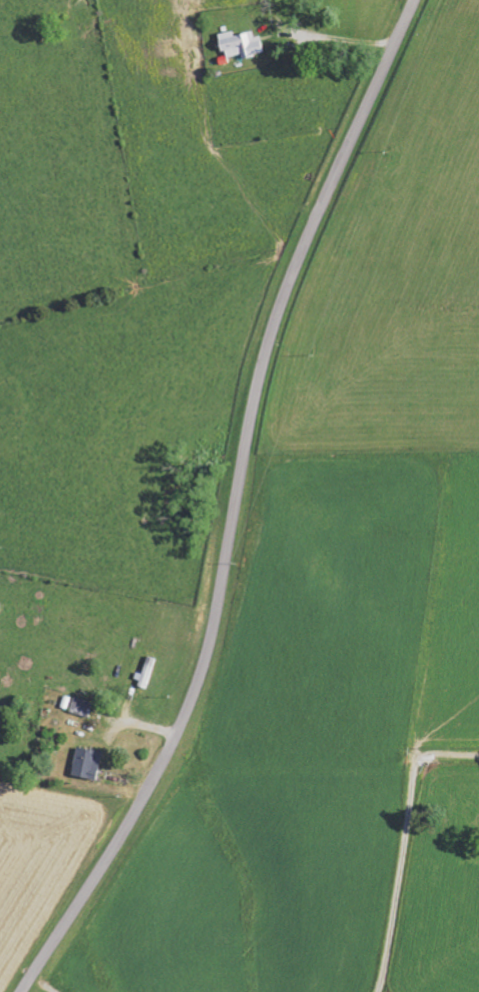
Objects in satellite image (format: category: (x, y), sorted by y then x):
building: (241, 45)
road: (233, 505)
building: (81, 706)
building: (87, 763)

